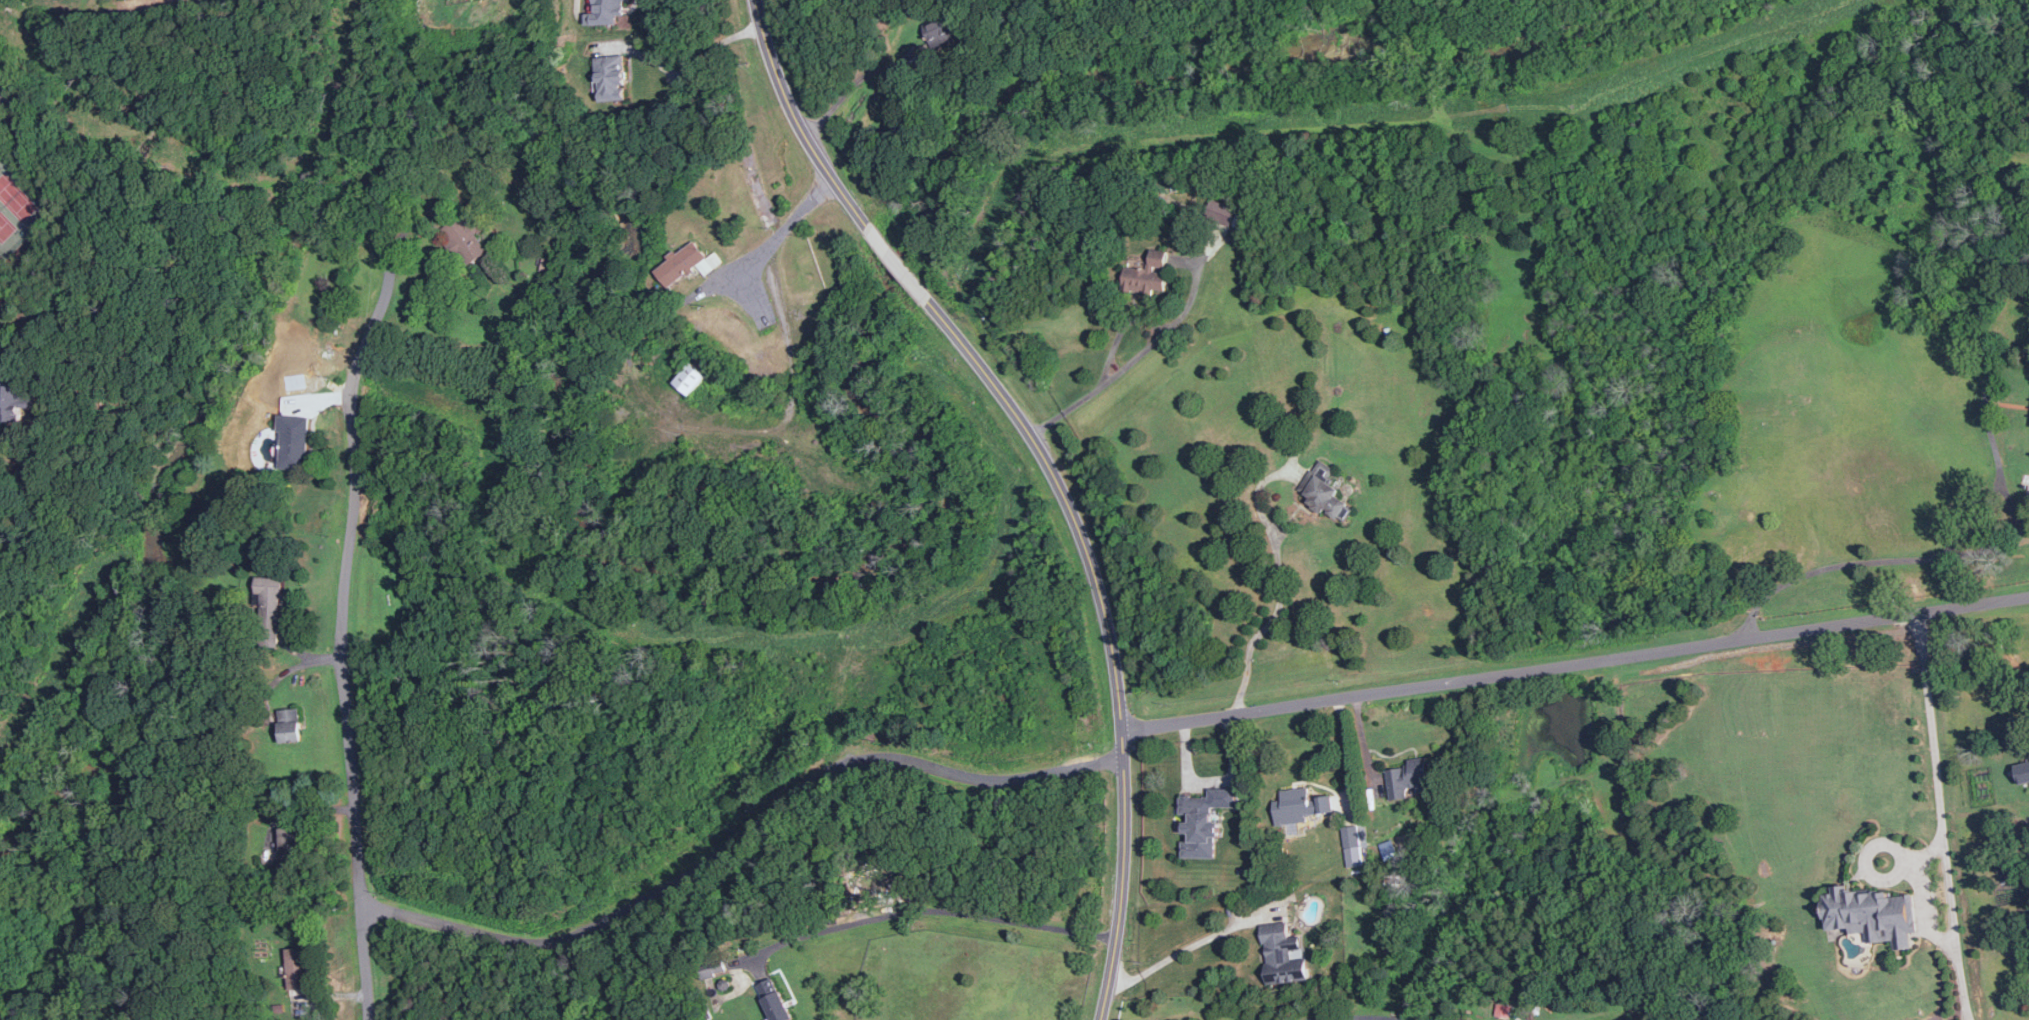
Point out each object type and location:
building: (606, 11)
building: (939, 34)
road: (696, 62)
building: (611, 78)
road: (855, 80)
road: (2, 95)
road: (797, 120)
park: (17, 209)
building: (1220, 211)
road: (781, 231)
building: (467, 237)
road: (900, 261)
building: (686, 264)
building: (1149, 274)
building: (690, 379)
road: (1080, 400)
building: (12, 401)
road: (1988, 422)
building: (294, 449)
building: (1326, 498)
road: (2019, 517)
road: (1861, 557)
road: (1280, 577)
building: (269, 612)
road: (342, 629)
road: (1111, 634)
road: (1576, 663)
building: (290, 725)
road: (1346, 750)
road: (1935, 756)
building: (2023, 772)
building: (1408, 778)
building: (1300, 806)
building: (1205, 821)
road: (742, 831)
building: (1353, 846)
building: (291, 849)
building: (1389, 849)
road: (931, 909)
building: (1870, 914)
road: (1936, 931)
road: (1175, 954)
building: (1285, 954)
building: (298, 968)
building: (774, 1001)
road: (1358, 1015)

